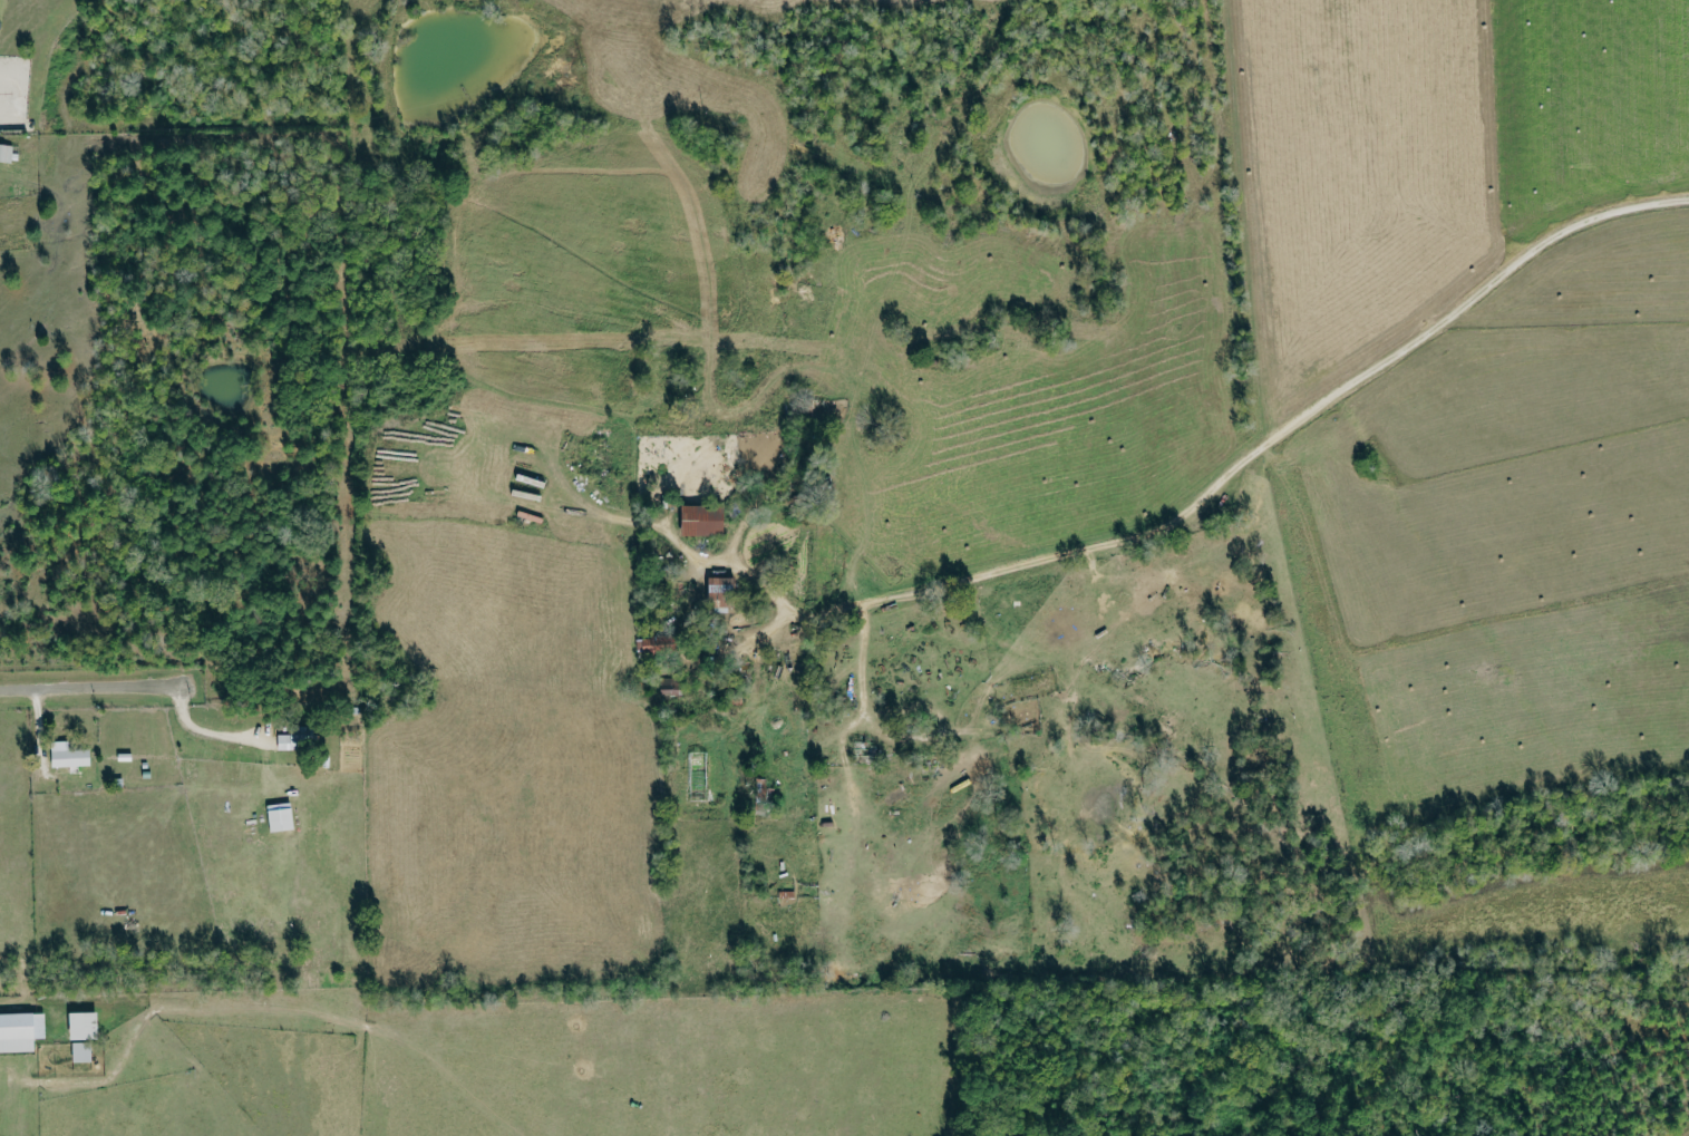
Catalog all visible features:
building: (6, 153)
road: (1283, 424)
building: (703, 521)
building: (720, 594)
road: (32, 689)
road: (174, 690)
building: (672, 695)
building: (289, 742)
building: (69, 756)
building: (764, 795)
building: (281, 817)
building: (84, 1027)
building: (21, 1032)
building: (82, 1052)

